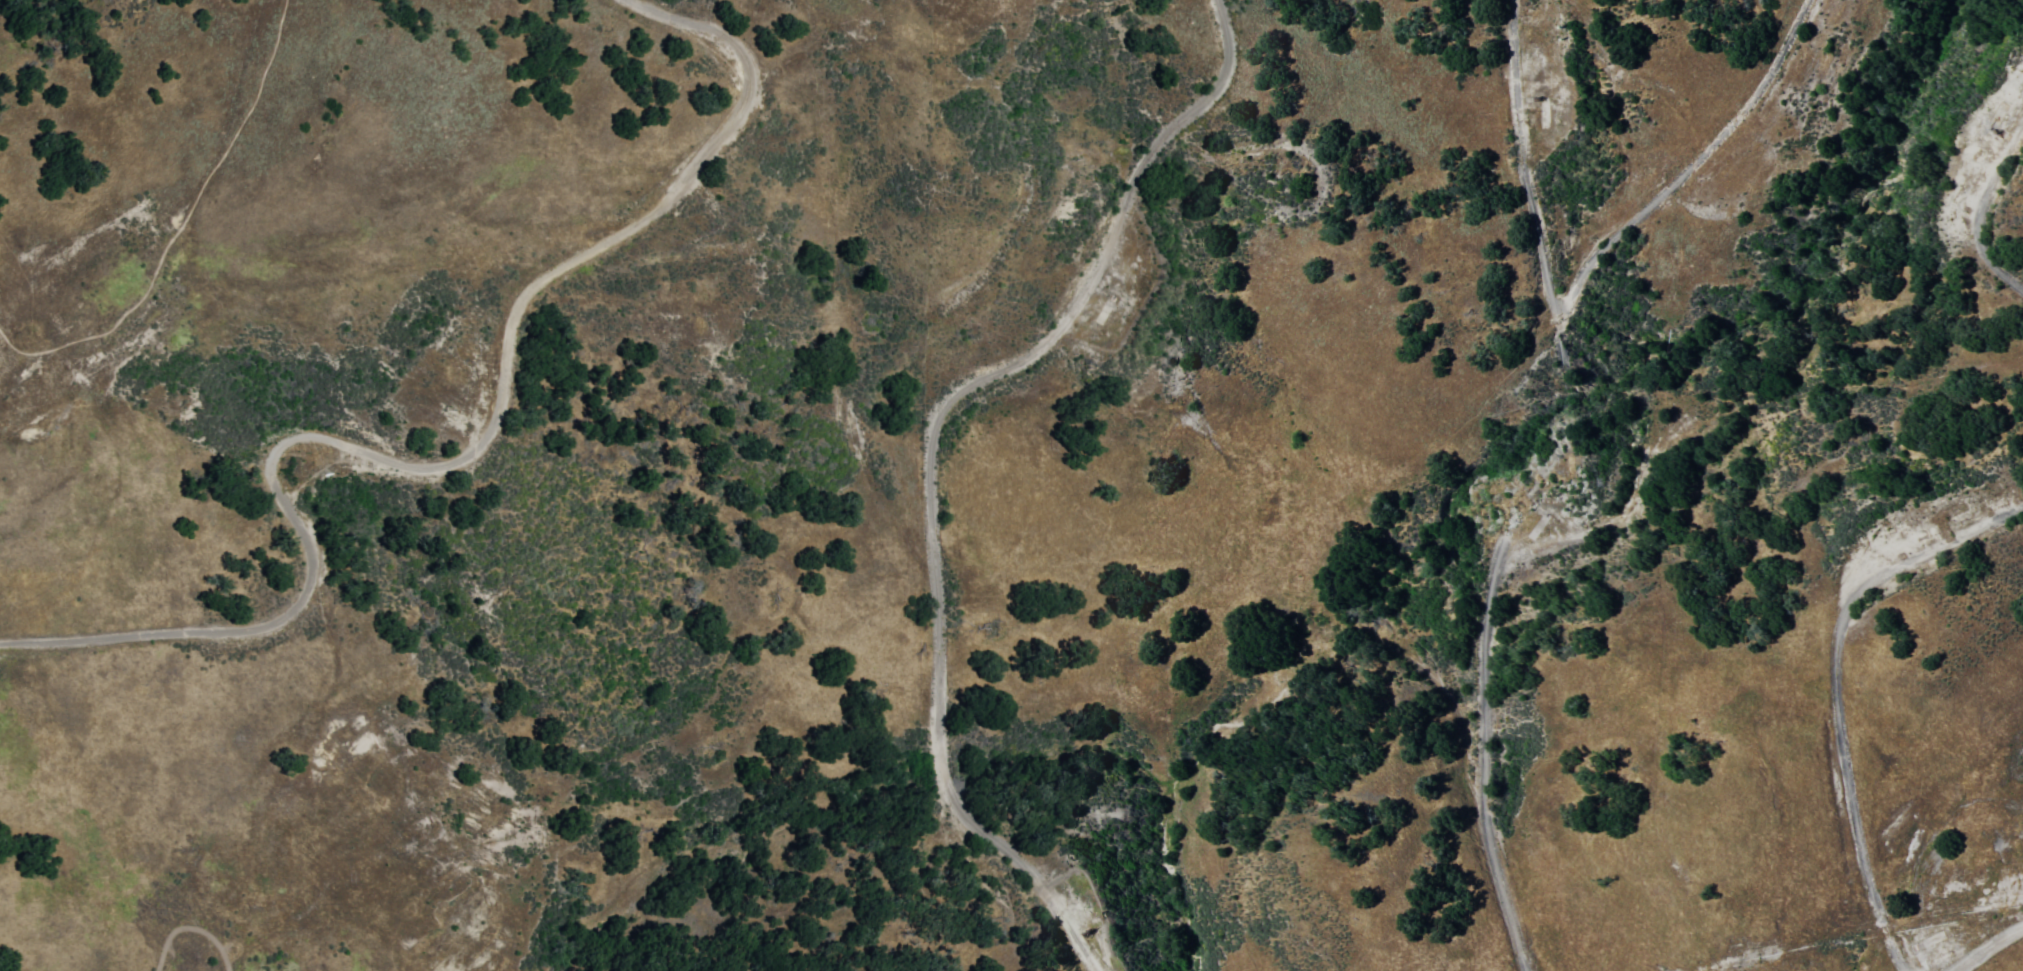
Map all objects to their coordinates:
road: (1685, 175)
road: (1985, 217)
road: (928, 454)
road: (455, 463)
road: (1532, 486)
road: (1942, 575)
road: (1836, 690)
road: (185, 921)
road: (1990, 947)

